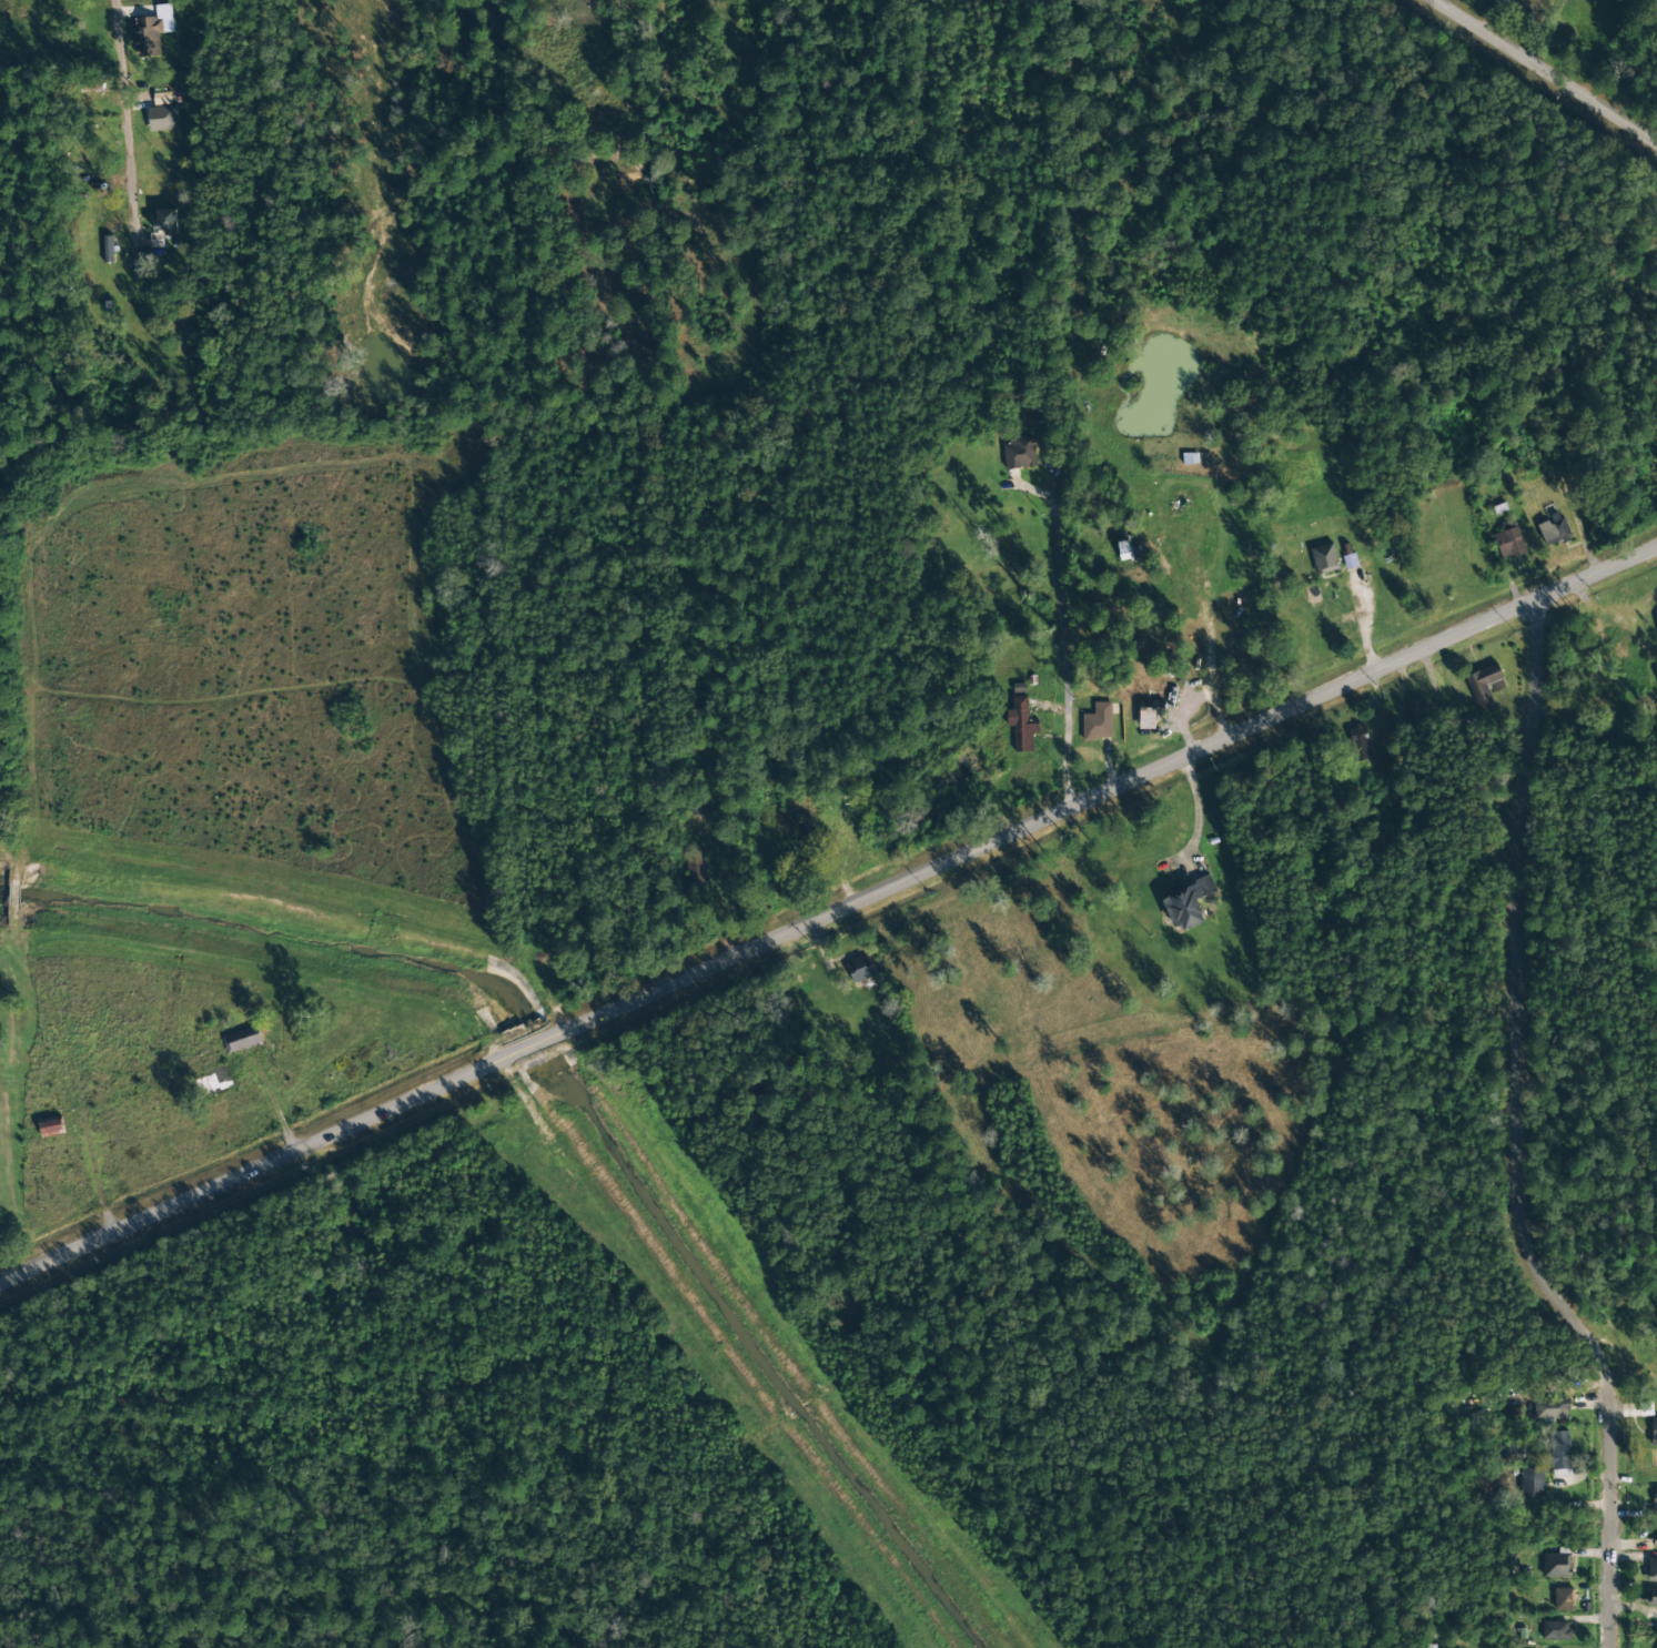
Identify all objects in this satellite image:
building: (151, 31)
road: (1544, 71)
road: (125, 115)
building: (162, 119)
building: (163, 220)
building: (107, 249)
road: (46, 446)
building: (1018, 454)
building: (1553, 530)
building: (1508, 542)
building: (1324, 559)
building: (1656, 621)
building: (1483, 687)
building: (1150, 708)
building: (1414, 712)
building: (1097, 722)
building: (1021, 725)
building: (1358, 744)
building: (1186, 904)
road: (827, 911)
building: (860, 969)
building: (242, 1039)
building: (51, 1128)
road: (1518, 1135)
building: (1550, 1408)
building: (1512, 1415)
building: (1654, 1430)
building: (1558, 1450)
building: (1532, 1482)
building: (1654, 1502)
building: (1654, 1536)
building: (1556, 1565)
building: (1651, 1570)
building: (1651, 1597)
building: (1563, 1599)
building: (1555, 1630)

